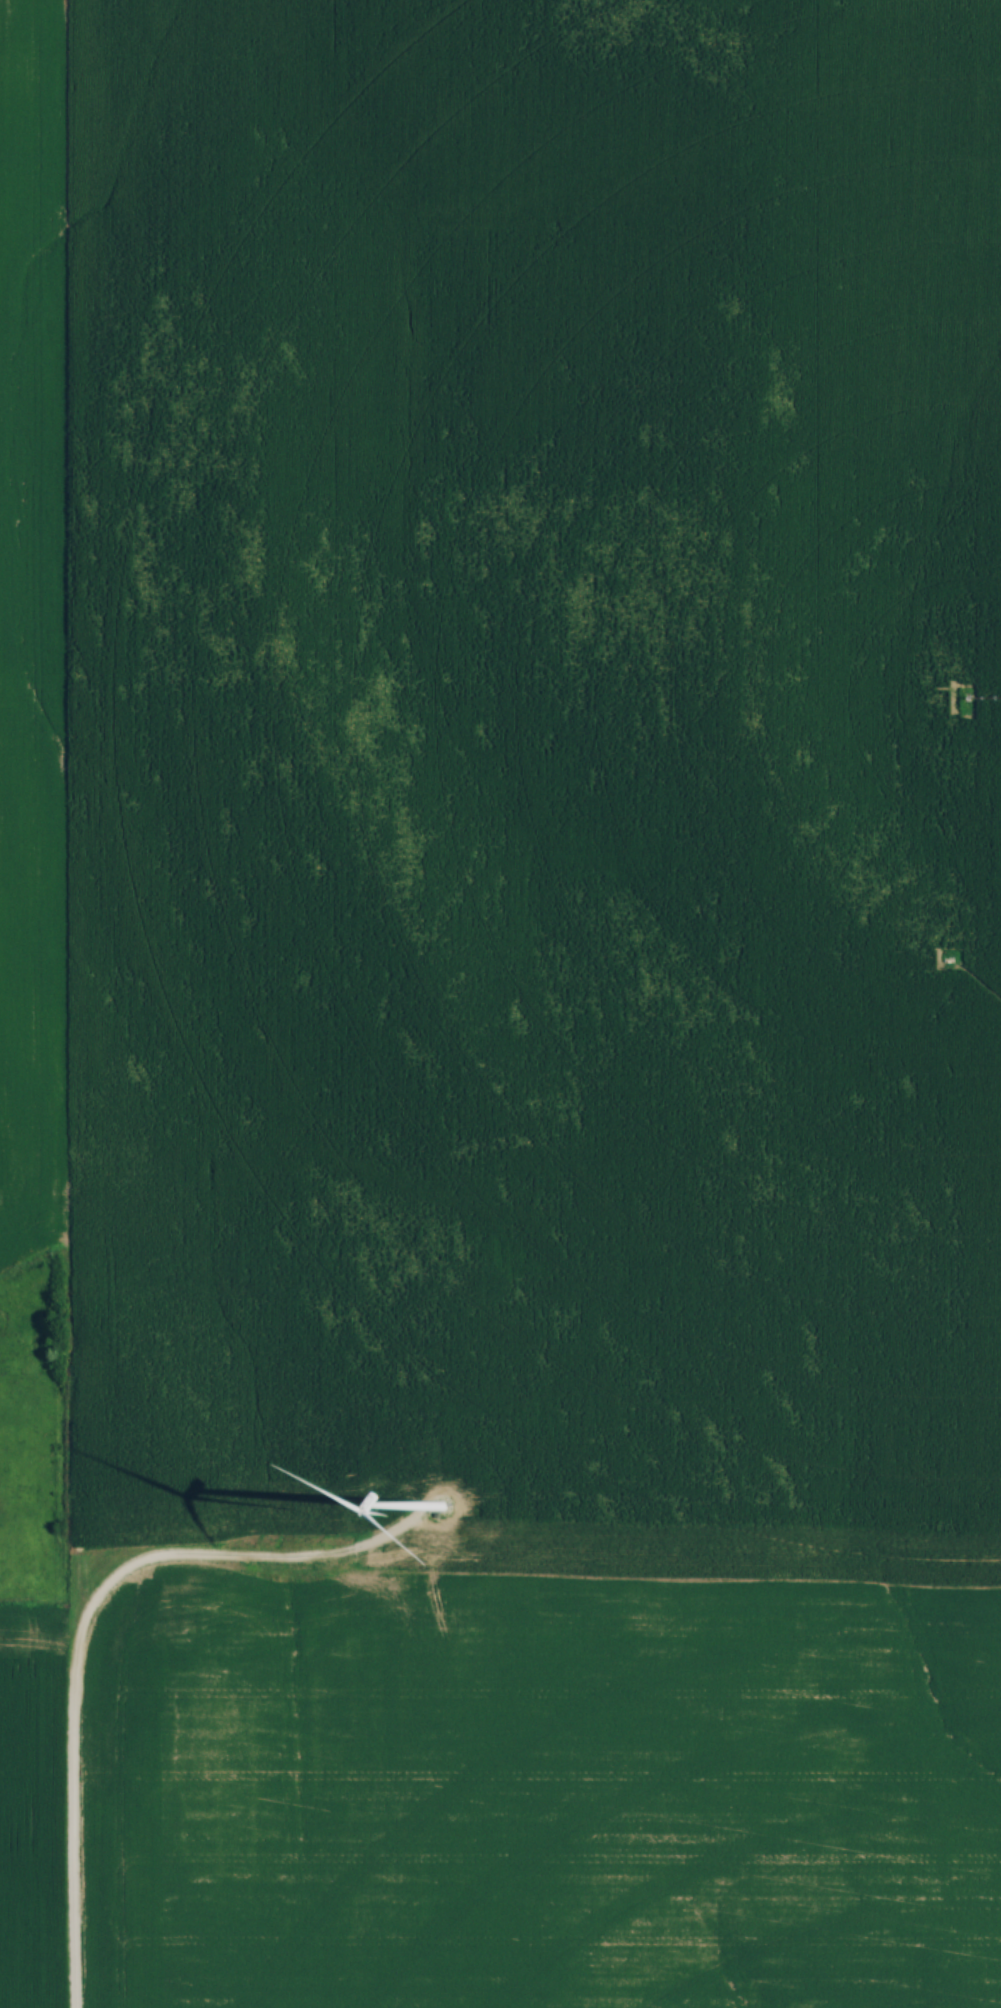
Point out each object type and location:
wind turbine: (442, 1505)
road: (81, 1629)

